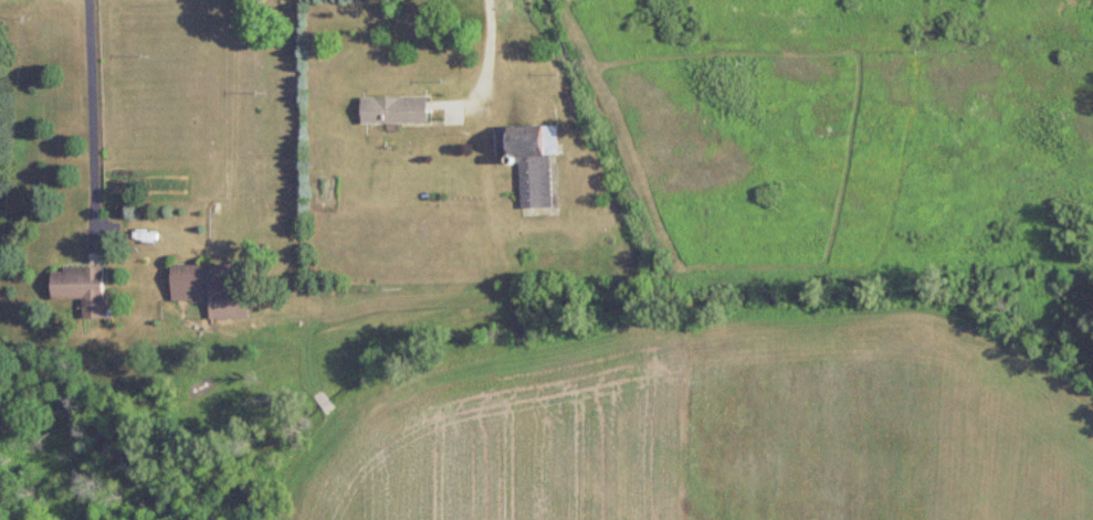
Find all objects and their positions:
road: (490, 60)
building: (393, 109)
road: (94, 116)
building: (533, 162)
building: (214, 280)
building: (86, 287)

